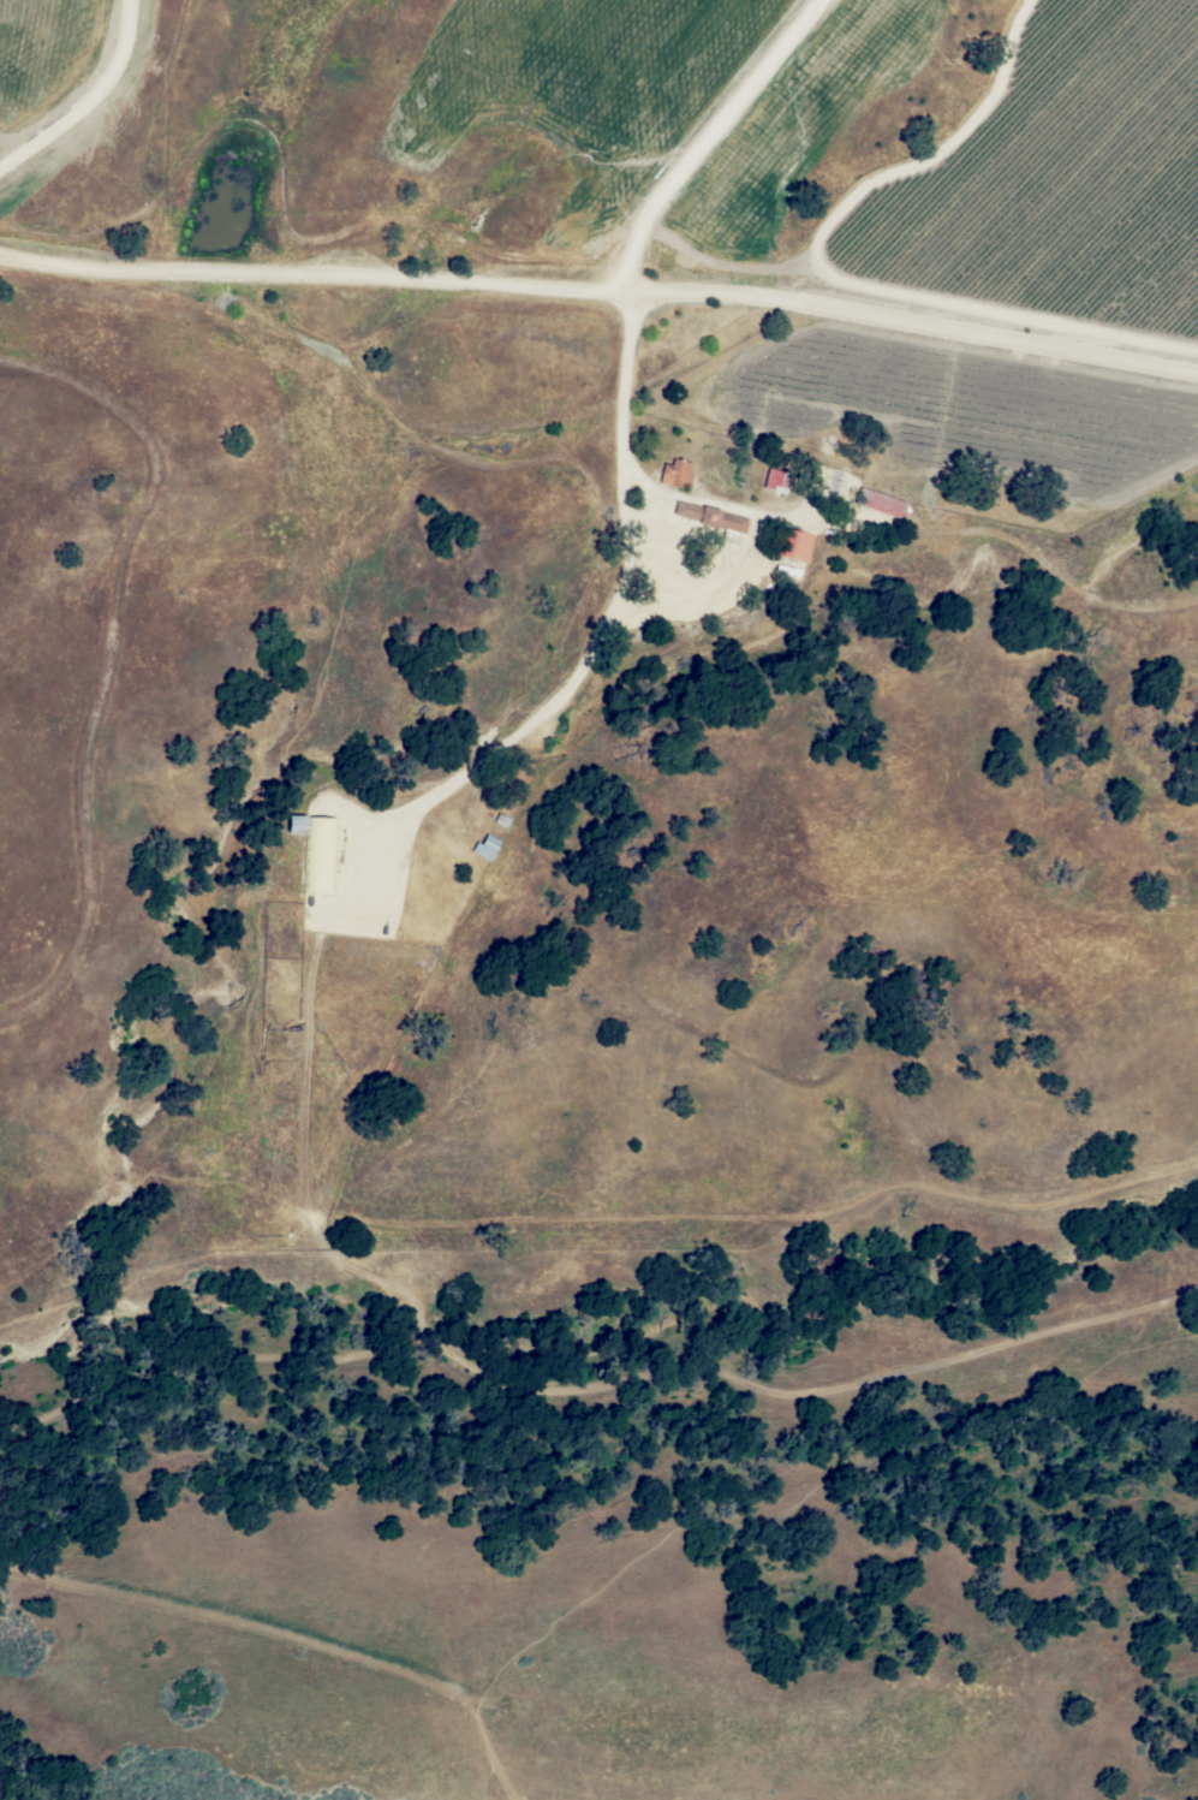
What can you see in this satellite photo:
road: (601, 289)
building: (677, 470)
building: (776, 479)
building: (880, 500)
building: (710, 515)
building: (733, 534)
building: (791, 541)
building: (485, 845)
building: (317, 848)
road: (305, 1006)

